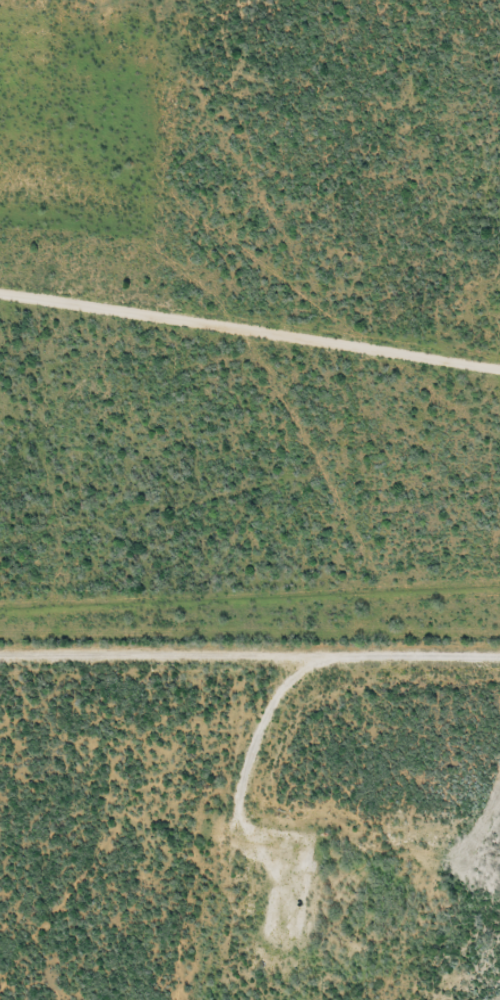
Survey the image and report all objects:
road: (250, 713)

